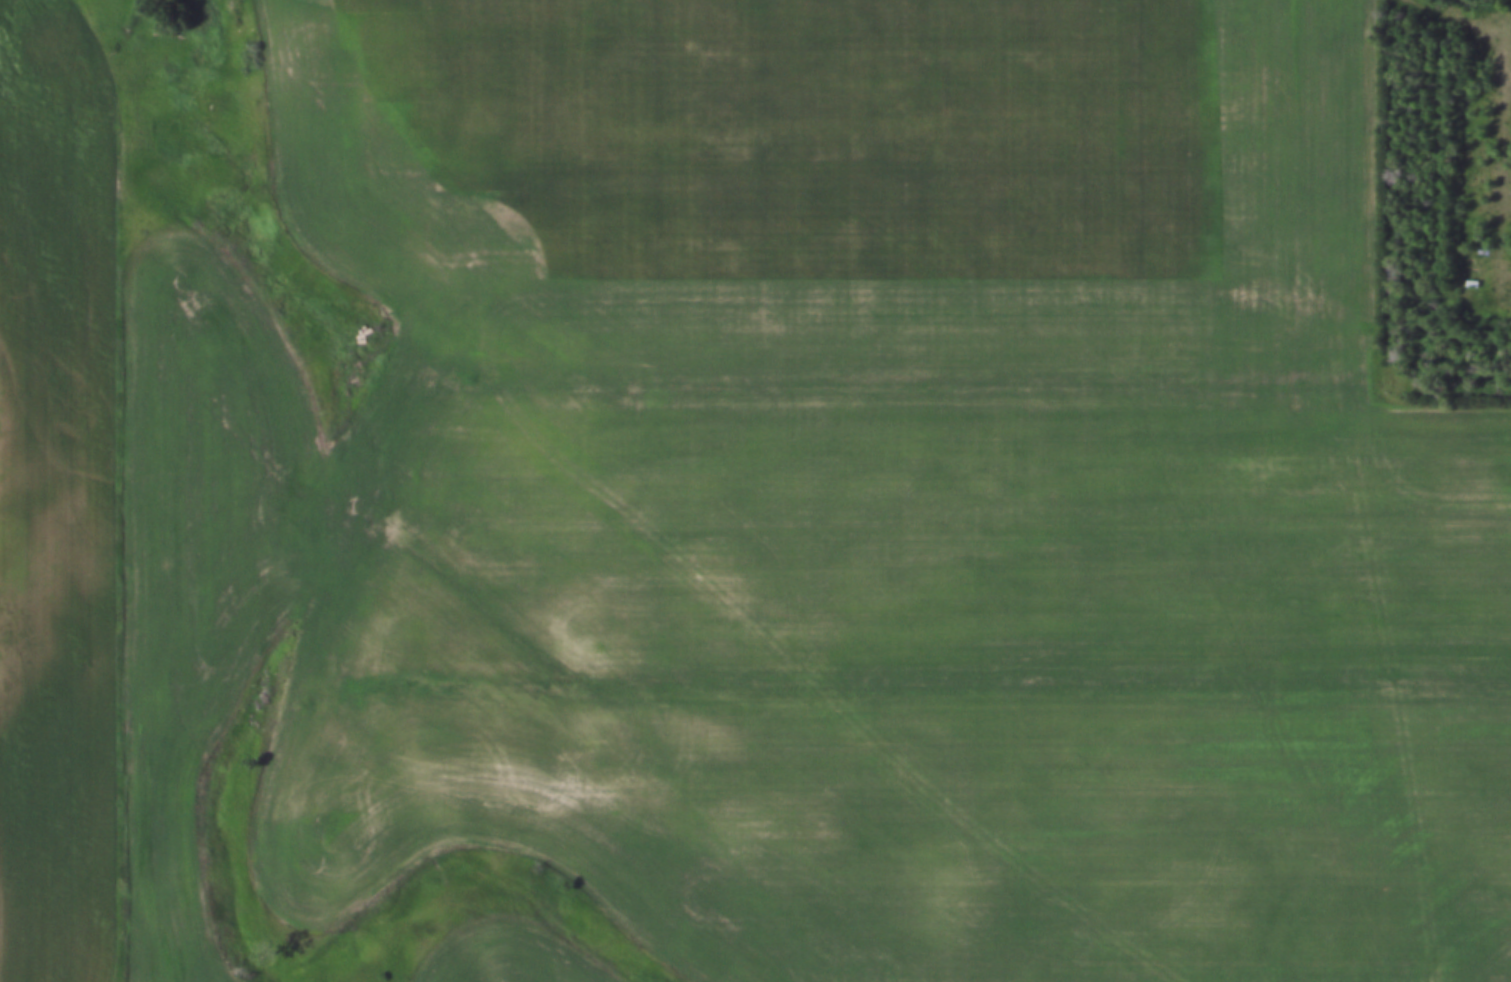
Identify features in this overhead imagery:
building: (1510, 94)
building: (1468, 277)

